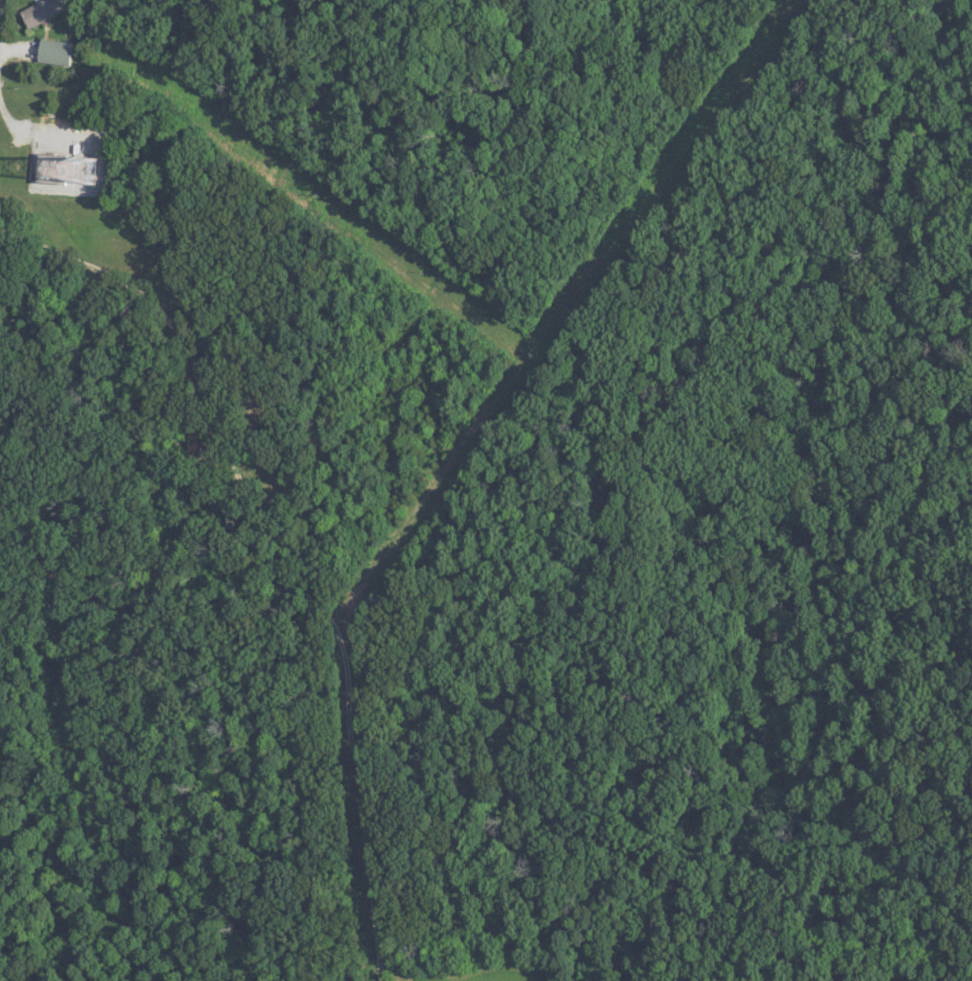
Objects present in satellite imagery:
building: (42, 12)
building: (57, 53)
building: (69, 159)
road: (263, 576)

